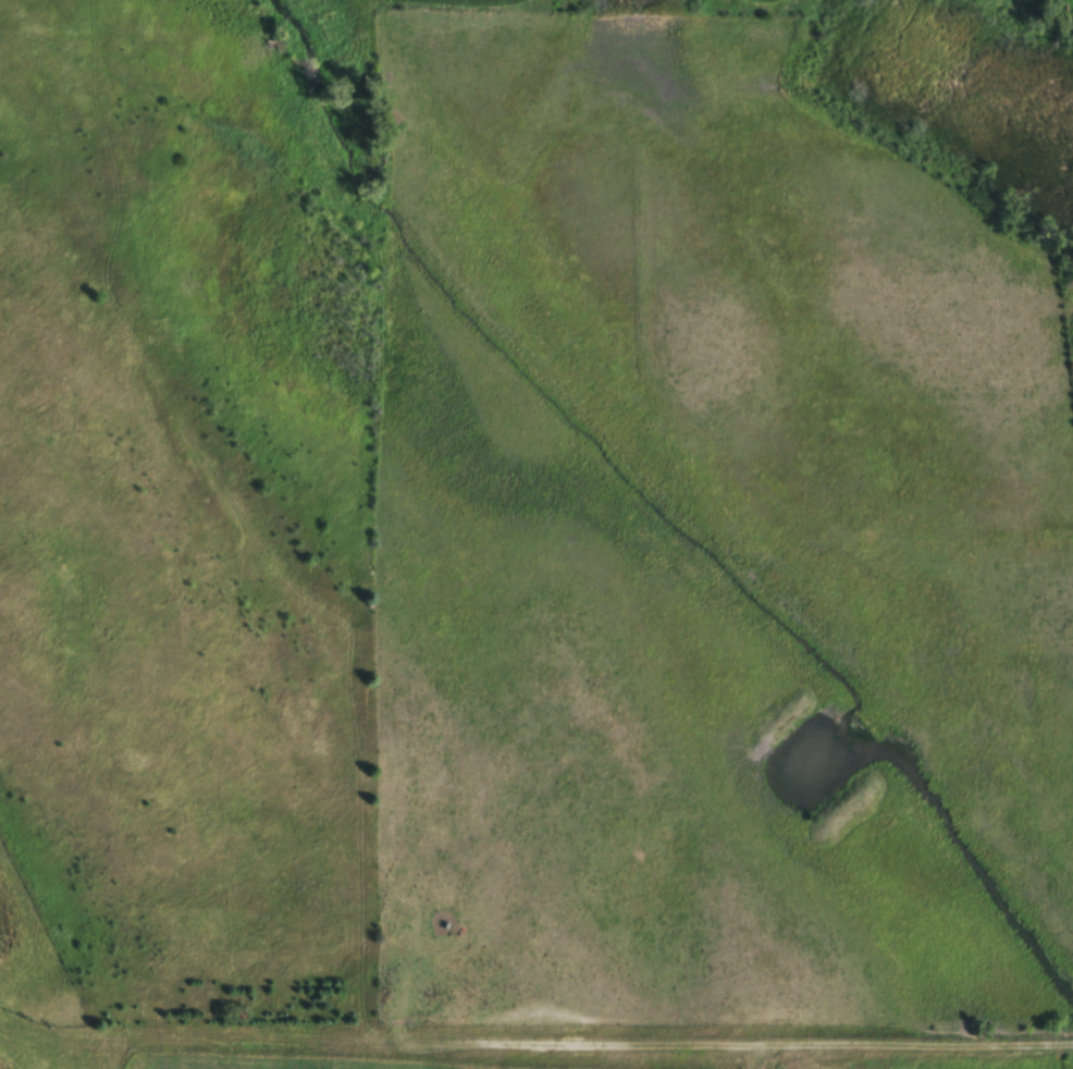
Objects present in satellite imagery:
road: (249, 1034)
road: (788, 1035)

